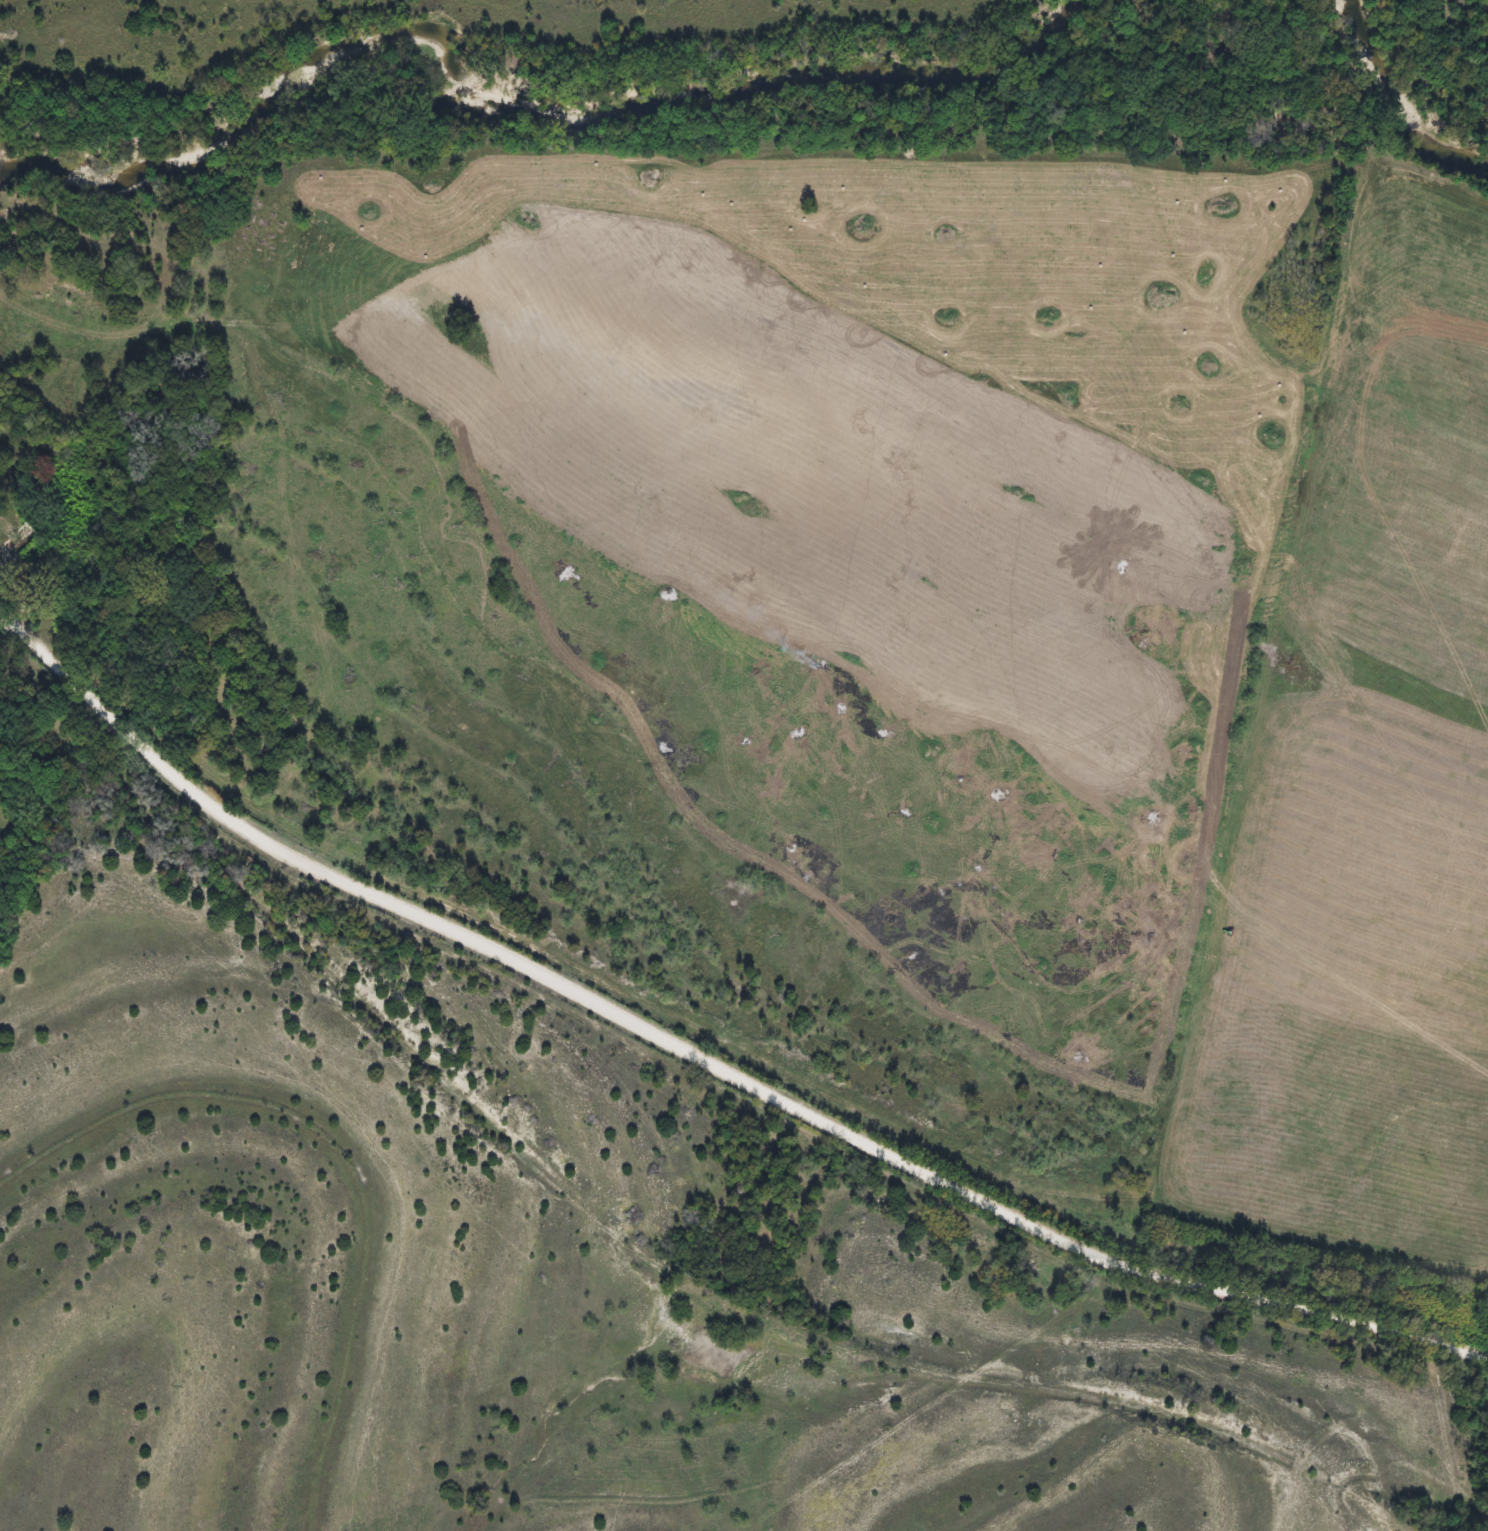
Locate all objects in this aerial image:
building: (17, 543)
road: (702, 1056)
railway: (620, 1236)

